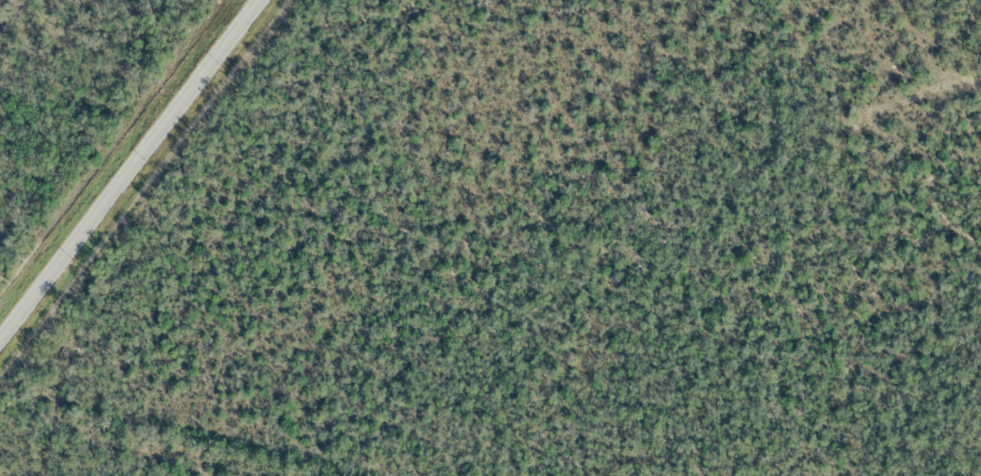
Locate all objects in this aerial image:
road: (129, 169)

